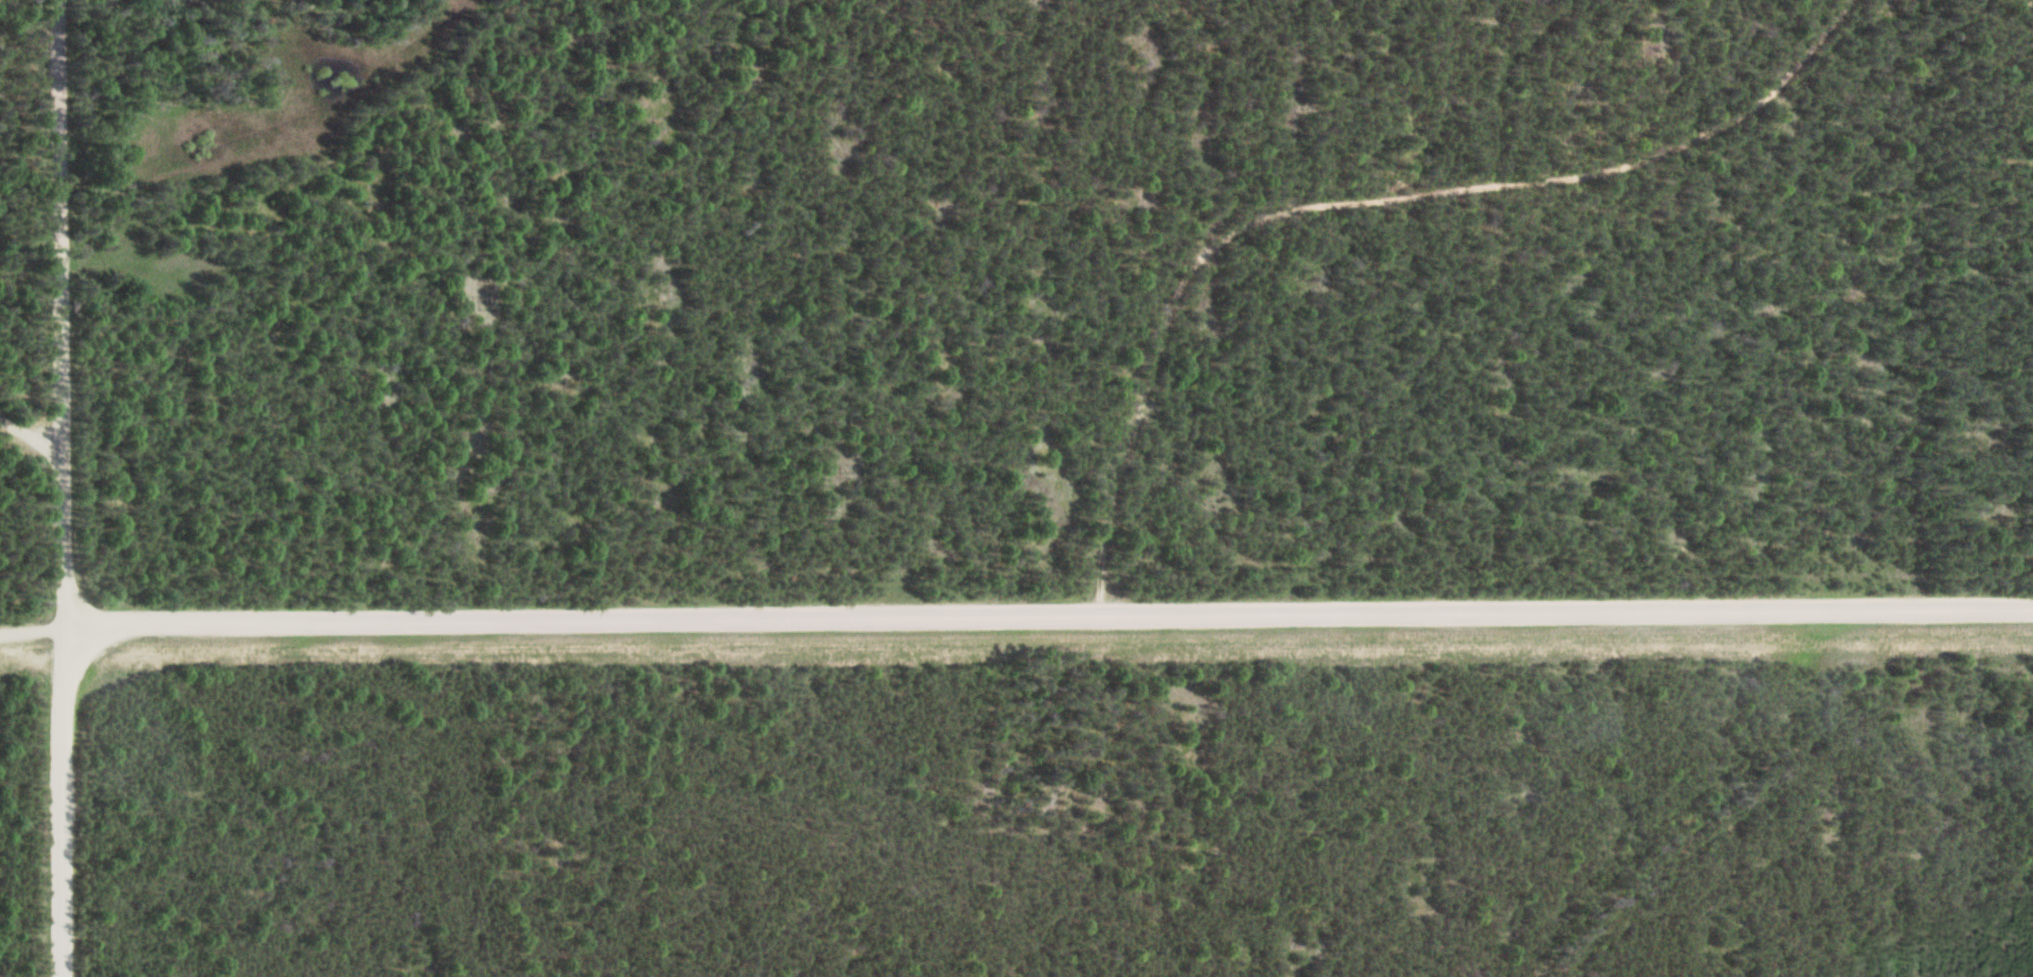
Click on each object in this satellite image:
road: (1361, 205)
road: (27, 440)
road: (55, 488)
road: (1016, 615)

